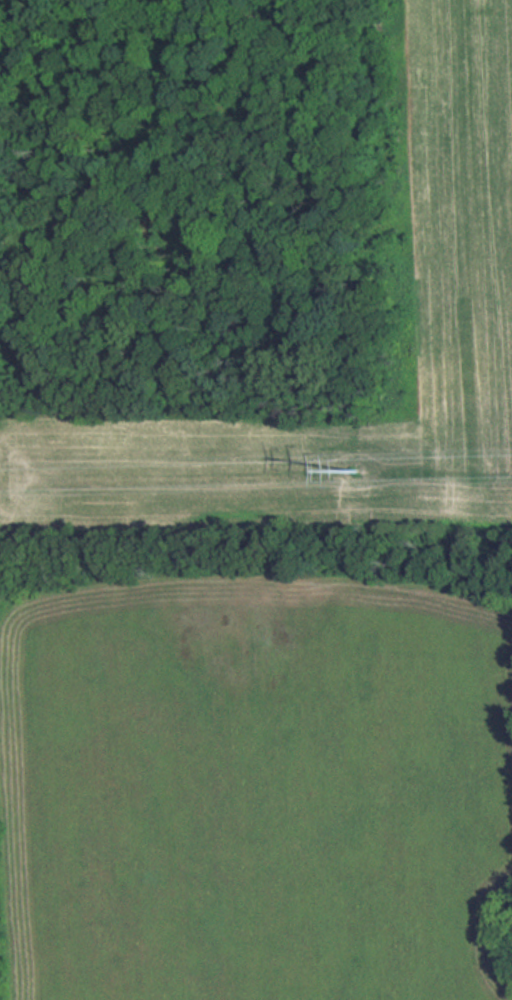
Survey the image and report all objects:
power tower: (359, 474)

